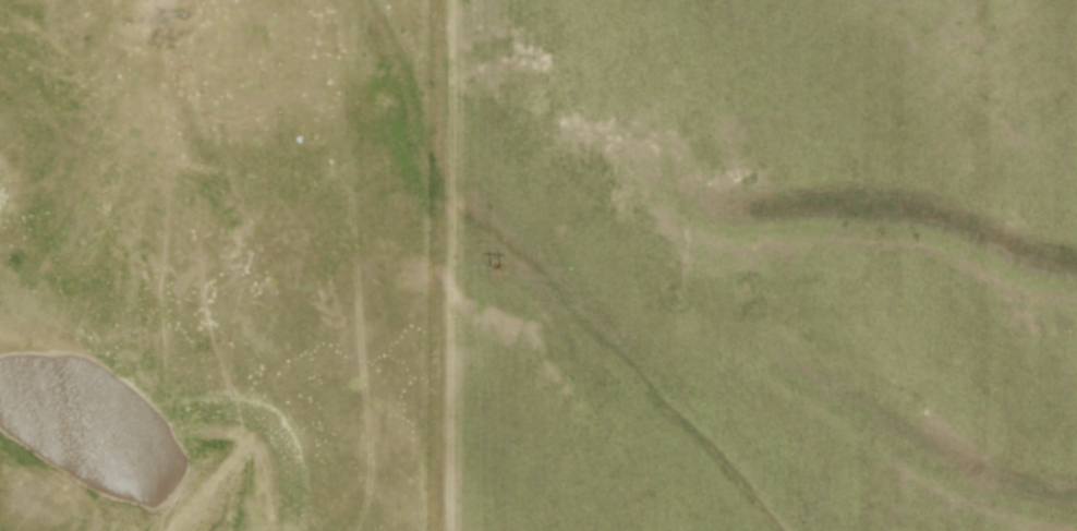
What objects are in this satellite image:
power tower: (493, 268)

